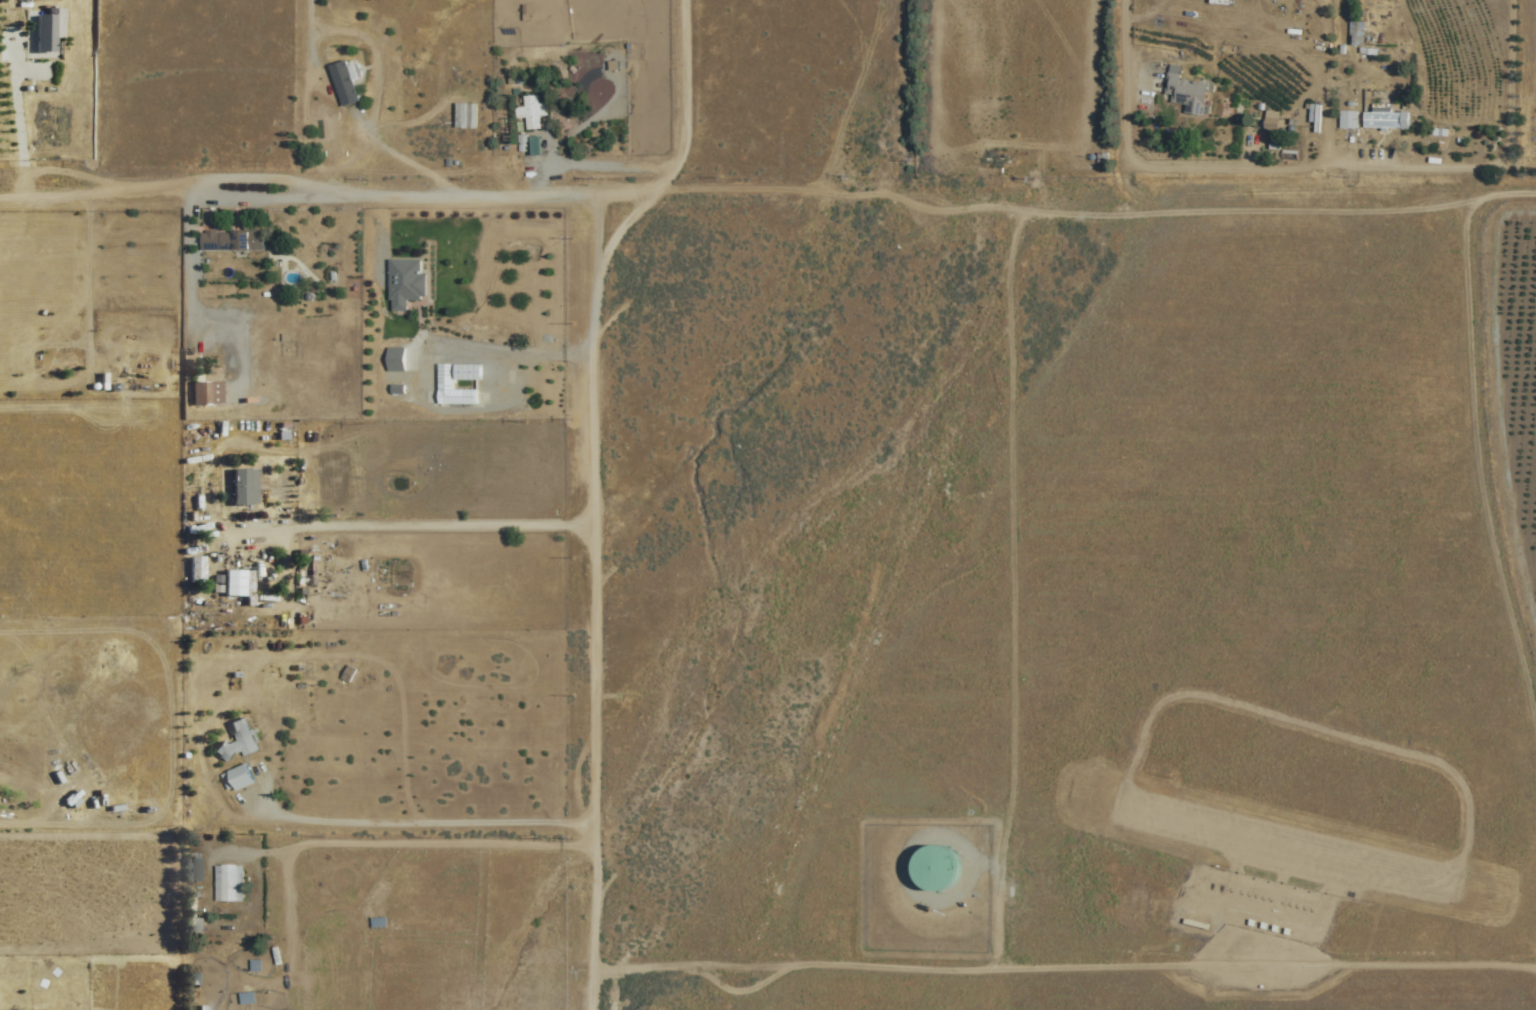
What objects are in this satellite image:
building: (1356, 32)
building: (44, 33)
road: (307, 33)
road: (1121, 75)
road: (681, 80)
building: (343, 83)
building: (1186, 94)
building: (531, 112)
building: (465, 116)
building: (1348, 120)
building: (1385, 120)
building: (1270, 124)
road: (1277, 207)
building: (227, 241)
building: (403, 284)
building: (394, 360)
building: (59, 365)
building: (443, 386)
building: (205, 394)
road: (1479, 473)
building: (242, 485)
road: (408, 512)
building: (195, 569)
road: (593, 572)
building: (232, 582)
building: (348, 673)
building: (237, 740)
building: (239, 776)
building: (194, 867)
building: (933, 867)
building: (227, 883)
building: (377, 922)
building: (193, 927)
road: (1057, 969)
building: (246, 997)

